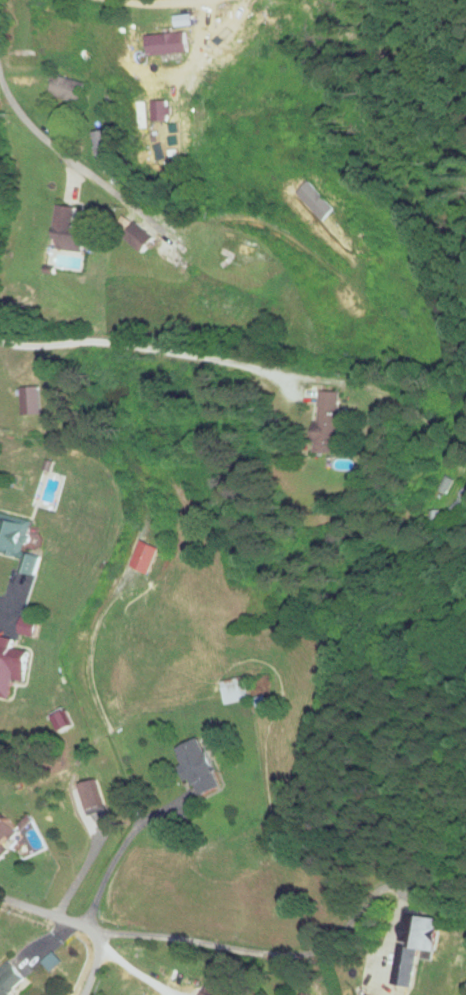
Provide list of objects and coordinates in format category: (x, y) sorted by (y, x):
road: (152, 5)
building: (173, 43)
building: (41, 60)
building: (68, 90)
road: (43, 135)
building: (68, 230)
building: (136, 240)
building: (30, 400)
building: (328, 423)
building: (43, 496)
building: (457, 505)
building: (16, 539)
building: (143, 557)
building: (28, 628)
building: (10, 668)
building: (237, 691)
building: (59, 721)
building: (200, 767)
building: (90, 797)
building: (9, 835)
road: (77, 924)
road: (43, 928)
building: (411, 950)
building: (51, 963)
building: (12, 982)
building: (204, 994)

